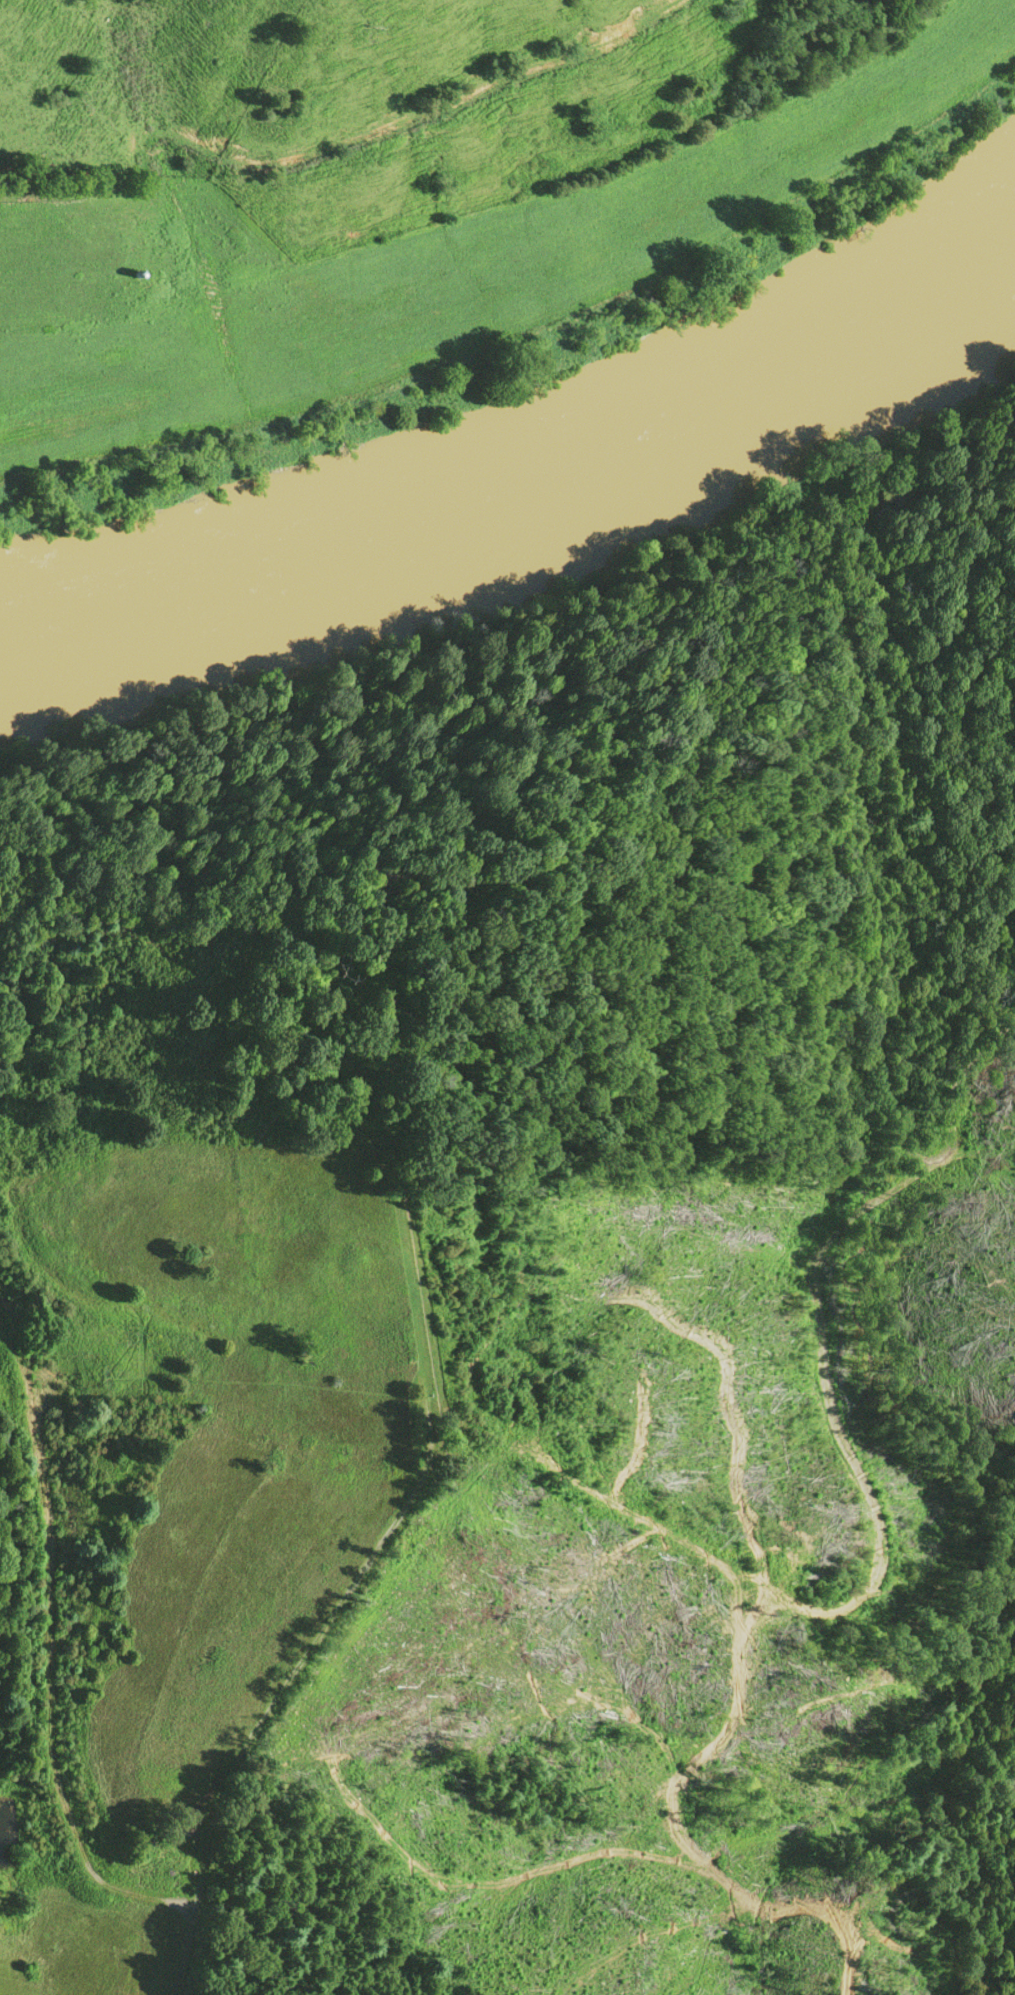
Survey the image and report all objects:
river: (870, 338)
river: (375, 574)
road: (339, 1606)
road: (54, 1639)

